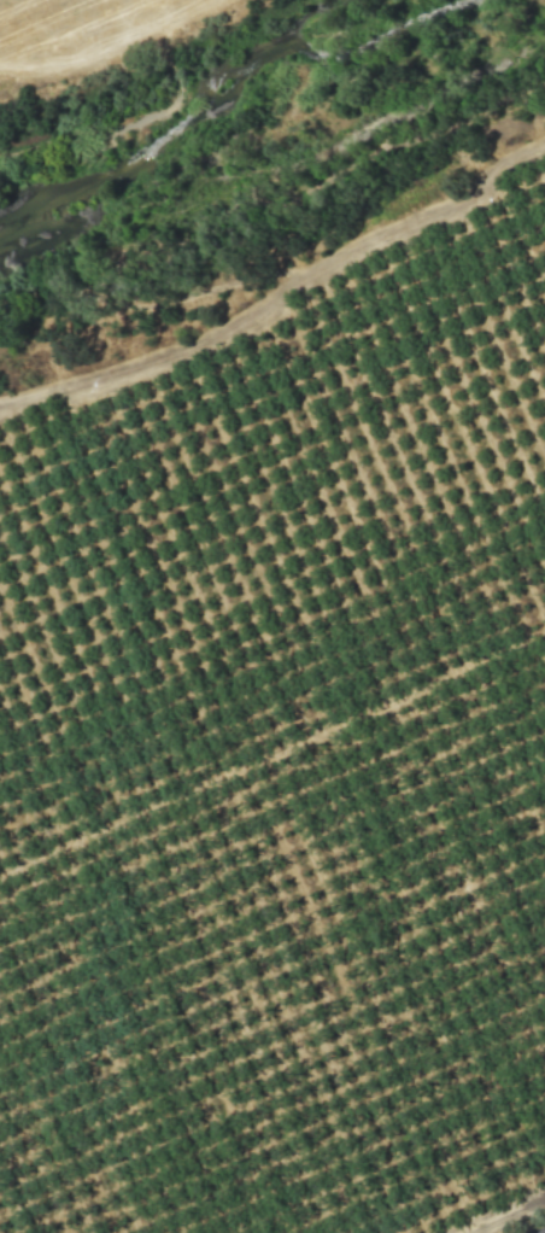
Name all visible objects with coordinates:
river: (272, 113)
road: (280, 299)

